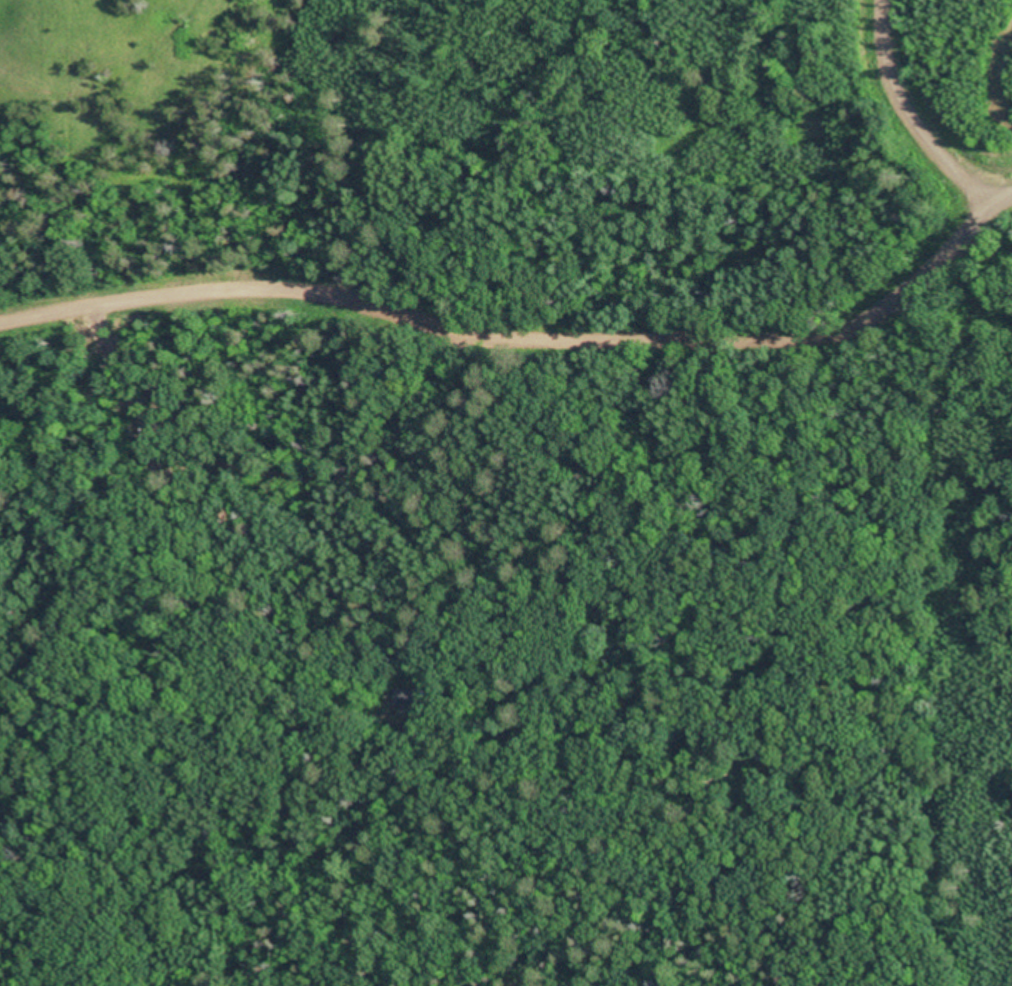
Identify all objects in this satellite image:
road: (903, 115)
road: (529, 340)
building: (409, 700)

